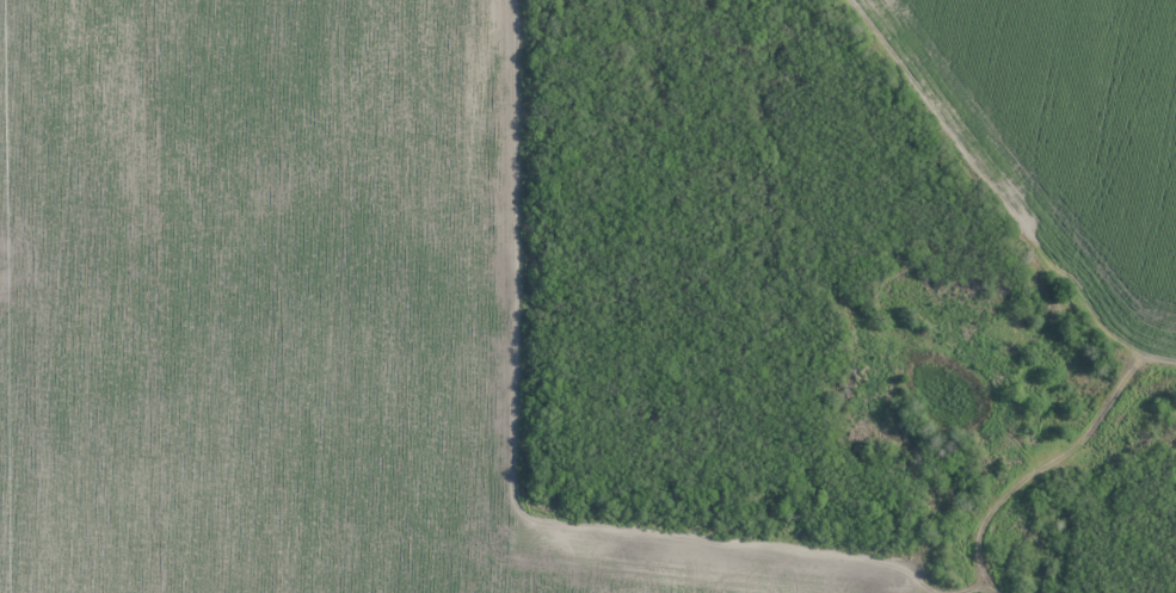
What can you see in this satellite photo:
crop: (1058, 130)
crop: (288, 311)
river: (946, 394)

